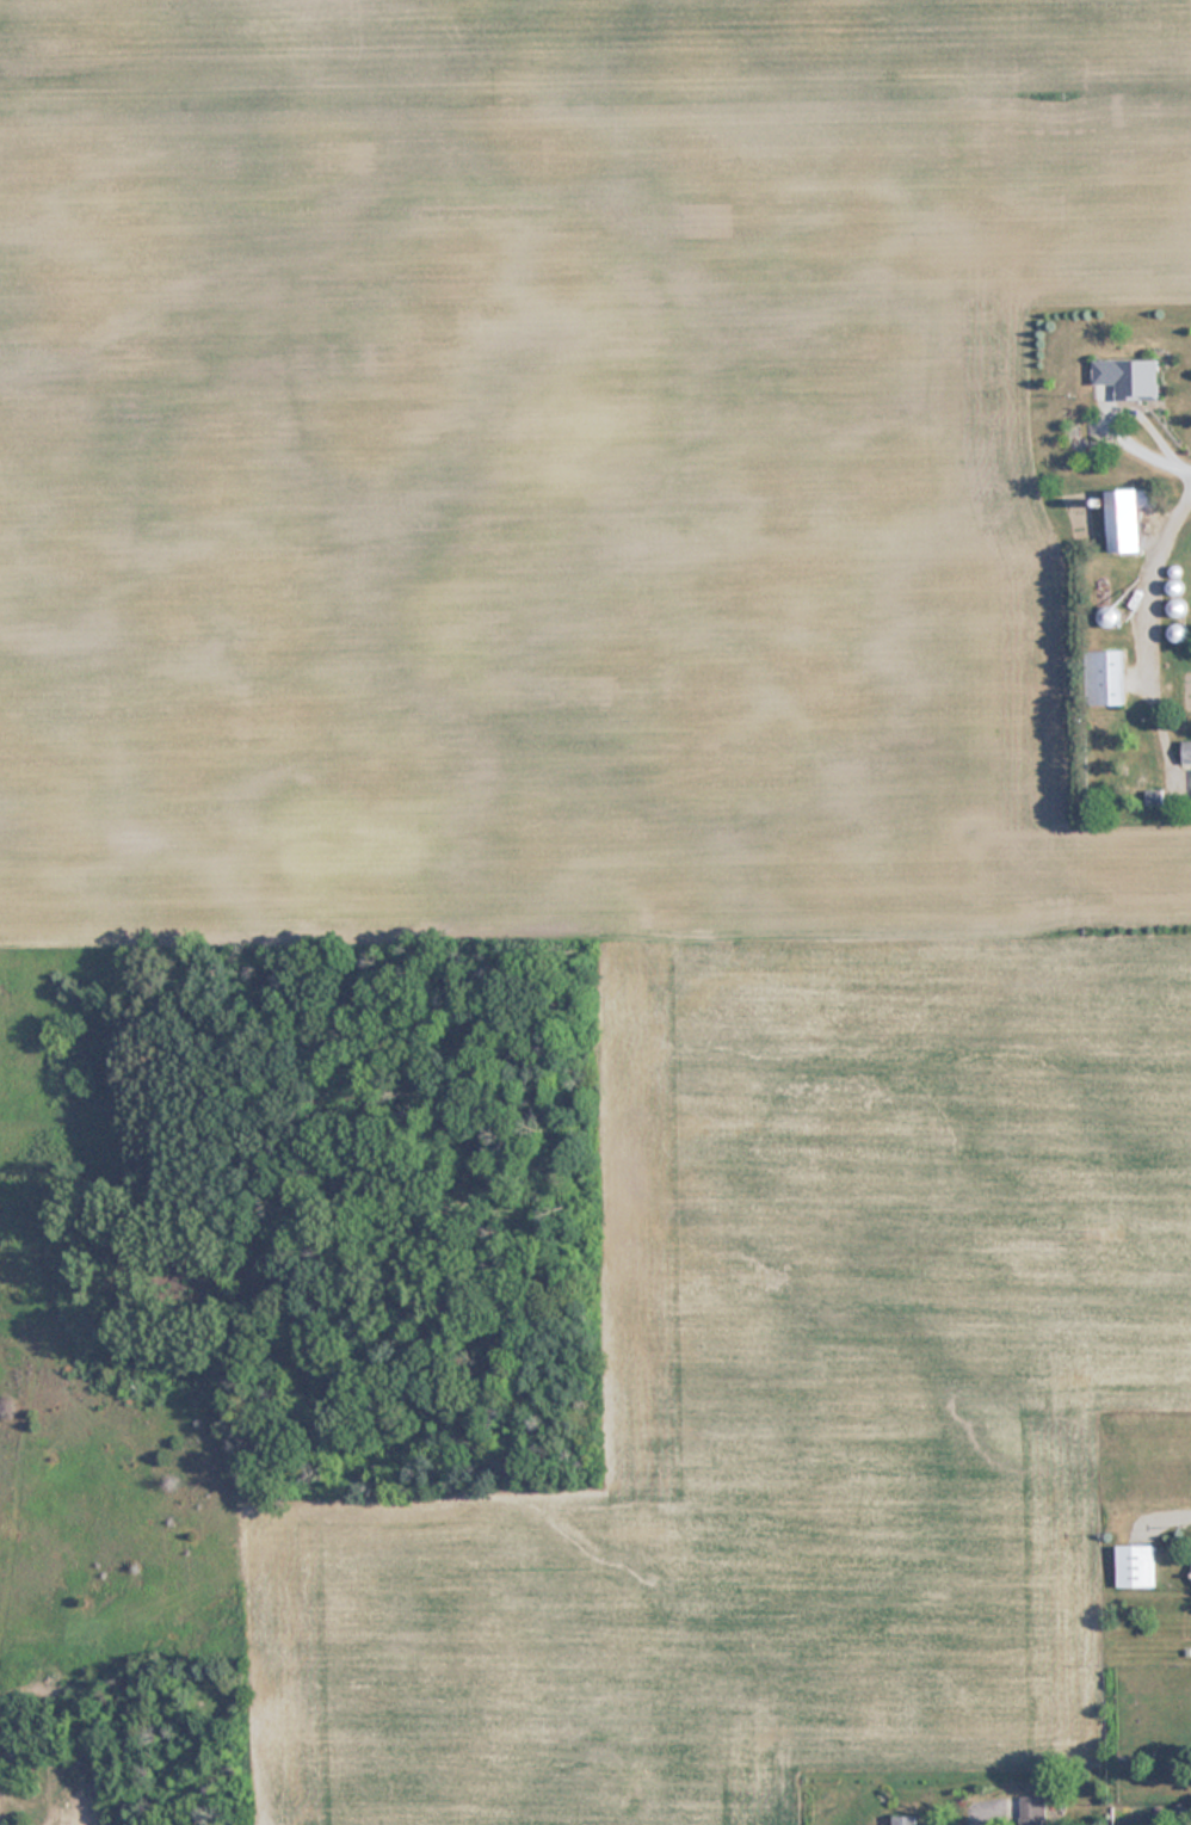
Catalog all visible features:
building: (1131, 377)
road: (1112, 414)
road: (1190, 471)
building: (1128, 518)
building: (1110, 618)
building: (1104, 678)
building: (1186, 752)
building: (1135, 1565)
building: (1033, 1809)
building: (1168, 1811)
road: (980, 1815)
building: (905, 1820)

